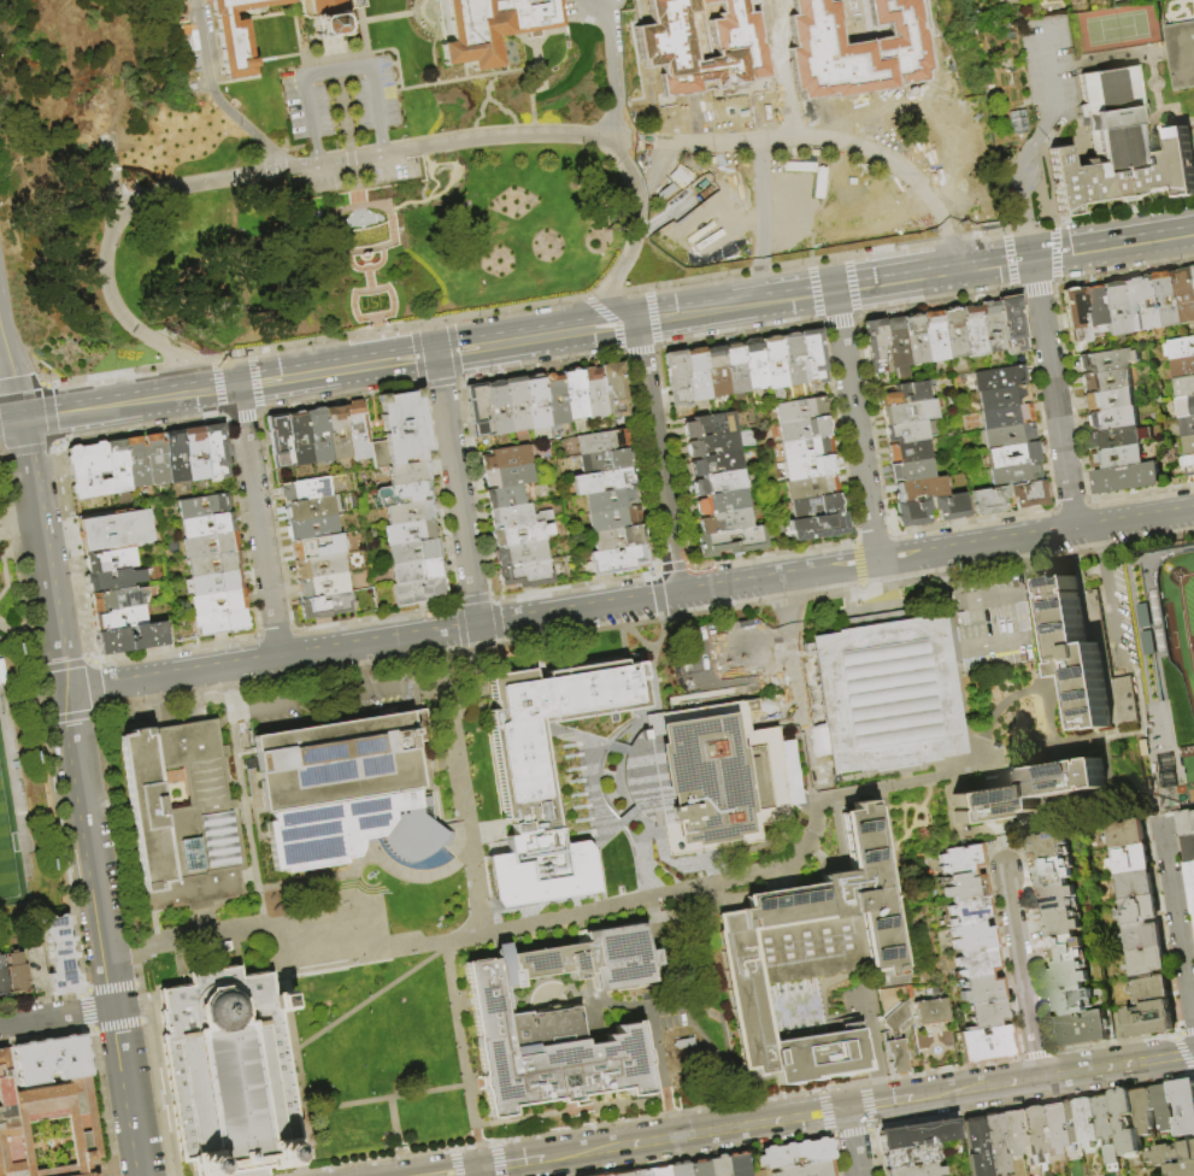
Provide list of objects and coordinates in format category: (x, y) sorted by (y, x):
building: (1014, 0)
building: (360, 4)
parking lot: (569, 12)
road: (559, 16)
road: (388, 17)
road: (419, 22)
building: (489, 27)
road: (772, 28)
park: (1117, 28)
road: (363, 33)
road: (546, 34)
building: (889, 36)
building: (235, 40)
parking lot: (663, 42)
road: (663, 42)
road: (202, 45)
road: (733, 45)
parking lot: (734, 45)
road: (296, 48)
road: (823, 52)
road: (394, 54)
building: (1182, 54)
road: (431, 57)
road: (539, 58)
road: (255, 59)
road: (1148, 61)
road: (1051, 65)
road: (1061, 65)
road: (612, 69)
road: (465, 70)
road: (334, 71)
road: (457, 80)
road: (535, 90)
parking lot: (340, 98)
road: (374, 98)
road: (900, 98)
road: (531, 107)
road: (307, 108)
road: (742, 118)
road: (534, 128)
road: (466, 129)
road: (833, 129)
road: (248, 130)
road: (343, 130)
road: (1193, 134)
road: (1035, 135)
road: (380, 142)
road: (670, 145)
building: (1119, 148)
road: (336, 149)
road: (314, 152)
building: (677, 176)
road: (1016, 178)
road: (357, 204)
road: (357, 206)
road: (1122, 210)
road: (117, 220)
road: (1025, 227)
road: (634, 234)
road: (361, 249)
traffic signals: (1031, 258)
road: (1004, 261)
road: (370, 289)
road: (370, 290)
building: (1187, 293)
road: (760, 296)
road: (814, 296)
building: (1171, 299)
building: (1152, 302)
building: (1133, 305)
building: (1093, 306)
building: (1113, 308)
building: (1075, 313)
road: (374, 316)
road: (375, 319)
road: (558, 323)
building: (1011, 325)
building: (992, 328)
building: (972, 331)
building: (953, 333)
building: (934, 336)
building: (914, 339)
road: (378, 340)
traffic signals: (434, 343)
building: (876, 347)
building: (895, 347)
building: (1182, 348)
road: (380, 352)
building: (812, 357)
building: (793, 359)
building: (1107, 360)
building: (774, 363)
building: (753, 364)
building: (734, 367)
building: (1182, 367)
traffic signals: (437, 369)
road: (419, 371)
building: (714, 371)
road: (11, 374)
building: (696, 375)
road: (231, 376)
building: (1000, 377)
building: (677, 380)
building: (1108, 380)
road: (22, 384)
road: (48, 384)
building: (1186, 387)
building: (613, 390)
building: (907, 393)
building: (594, 394)
road: (1052, 394)
building: (574, 395)
building: (1001, 396)
building: (554, 399)
road: (83, 400)
building: (1108, 400)
building: (535, 402)
building: (516, 404)
building: (496, 407)
building: (1186, 407)
road: (35, 410)
building: (477, 410)
building: (799, 410)
building: (907, 412)
road: (53, 414)
road: (10, 417)
traffic signals: (20, 417)
building: (1005, 417)
building: (1112, 419)
building: (706, 423)
road: (854, 424)
building: (1187, 427)
building: (804, 429)
building: (401, 430)
building: (357, 431)
building: (908, 431)
building: (337, 434)
building: (1007, 436)
building: (318, 437)
building: (1119, 437)
building: (299, 440)
building: (280, 441)
building: (595, 443)
building: (708, 443)
road: (55, 446)
building: (1188, 446)
road: (27, 448)
building: (805, 448)
building: (216, 452)
road: (654, 452)
building: (908, 452)
road: (1, 453)
building: (195, 454)
building: (1012, 454)
building: (176, 457)
building: (506, 458)
building: (1118, 458)
building: (154, 459)
building: (604, 461)
building: (136, 463)
building: (712, 463)
building: (1189, 465)
building: (118, 468)
building: (810, 468)
building: (89, 471)
building: (911, 471)
building: (408, 474)
building: (1014, 474)
building: (508, 476)
building: (1127, 478)
building: (602, 481)
building: (718, 483)
road: (455, 484)
building: (811, 487)
building: (306, 489)
building: (922, 489)
building: (402, 494)
building: (1028, 494)
building: (504, 496)
building: (610, 500)
building: (988, 500)
building: (720, 502)
building: (202, 506)
building: (816, 506)
building: (951, 506)
building: (311, 508)
building: (411, 512)
building: (912, 513)
road: (257, 517)
building: (516, 517)
building: (613, 519)
road: (17, 521)
building: (724, 522)
road: (245, 524)
building: (208, 525)
building: (818, 527)
building: (313, 528)
building: (116, 530)
building: (411, 533)
building: (520, 534)
road: (1035, 536)
building: (617, 537)
building: (731, 541)
building: (210, 545)
building: (318, 546)
road: (858, 547)
road: (14, 551)
building: (414, 552)
road: (41, 554)
road: (75, 554)
building: (519, 554)
building: (110, 560)
building: (618, 560)
road: (1027, 561)
building: (214, 564)
building: (320, 565)
road: (1, 566)
road: (830, 568)
building: (417, 571)
building: (525, 575)
road: (939, 575)
building: (113, 581)
building: (214, 583)
road: (731, 584)
building: (324, 586)
building: (419, 590)
road: (1105, 595)
building: (116, 600)
building: (219, 602)
building: (327, 606)
road: (1025, 613)
road: (793, 618)
building: (119, 619)
building: (222, 623)
road: (948, 627)
road: (1037, 634)
road: (20, 636)
building: (130, 639)
road: (371, 642)
park: (1177, 647)
road: (31, 657)
building: (1089, 658)
road: (94, 660)
road: (63, 665)
road: (783, 665)
road: (358, 668)
road: (695, 675)
road: (231, 687)
road: (382, 687)
building: (990, 687)
road: (1036, 687)
road: (96, 688)
building: (887, 693)
road: (37, 694)
building: (972, 704)
road: (265, 705)
building: (1036, 712)
road: (70, 716)
building: (1027, 716)
road: (605, 741)
building: (524, 771)
road: (239, 777)
building: (719, 778)
road: (459, 781)
building: (1028, 790)
building: (347, 792)
road: (833, 799)
building: (184, 818)
building: (1187, 823)
road: (116, 830)
building: (1127, 834)
building: (1047, 845)
building: (1189, 847)
road: (89, 848)
road: (61, 855)
park: (6, 857)
building: (1130, 859)
building: (961, 862)
building: (539, 869)
building: (1051, 872)
building: (1190, 874)
road: (345, 875)
building: (1134, 884)
building: (966, 888)
road: (683, 890)
building: (1057, 898)
building: (1192, 899)
road: (210, 910)
building: (1137, 911)
building: (969, 912)
building: (1061, 923)
road: (1176, 924)
road: (248, 931)
building: (1143, 936)
building: (972, 939)
road: (183, 942)
building: (1065, 947)
road: (273, 948)
building: (58, 954)
building: (586, 960)
building: (808, 962)
building: (1147, 962)
building: (978, 963)
road: (137, 966)
road: (1022, 972)
building: (17, 974)
building: (1070, 974)
building: (4, 980)
road: (113, 987)
building: (1152, 988)
building: (980, 989)
road: (84, 992)
road: (370, 998)
building: (890, 998)
road: (41, 1000)
building: (1072, 1000)
road: (142, 1001)
road: (84, 1011)
building: (928, 1011)
road: (57, 1015)
road: (649, 1015)
building: (984, 1015)
building: (1152, 1019)
building: (899, 1021)
road: (119, 1025)
building: (1082, 1029)
road: (89, 1030)
road: (459, 1033)
road: (1188, 1033)
road: (1178, 1035)
road: (43, 1036)
building: (986, 1045)
road: (1116, 1045)
road: (288, 1046)
road: (870, 1049)
building: (547, 1052)
road: (1186, 1053)
road: (1039, 1056)
building: (894, 1057)
building: (51, 1060)
building: (228, 1074)
road: (843, 1086)
road: (128, 1090)
road: (158, 1098)
road: (641, 1100)
road: (102, 1102)
road: (355, 1104)
building: (47, 1105)
building: (1184, 1106)
building: (1155, 1109)
road: (816, 1115)
road: (392, 1117)
road: (522, 1118)
building: (1089, 1122)
building: (1128, 1122)
building: (1070, 1127)
road: (580, 1128)
building: (1108, 1128)
building: (1051, 1129)
building: (1012, 1133)
building: (917, 1135)
building: (1033, 1139)
road: (852, 1142)
road: (476, 1143)
road: (487, 1143)
building: (994, 1145)
road: (465, 1147)
building: (975, 1148)
road: (428, 1153)
building: (1171, 1153)
building: (795, 1154)
road: (399, 1156)
building: (911, 1157)
road: (500, 1160)
road: (458, 1164)
building: (737, 1164)
road: (349, 1165)
building: (718, 1166)
building: (678, 1169)
building: (699, 1169)
building: (1181, 1169)
building: (807, 1170)
building: (659, 1171)
building: (917, 1171)
road: (477, 1172)
building: (640, 1172)
building: (622, 1174)
road: (293, 1175)
building: (607, 1175)

